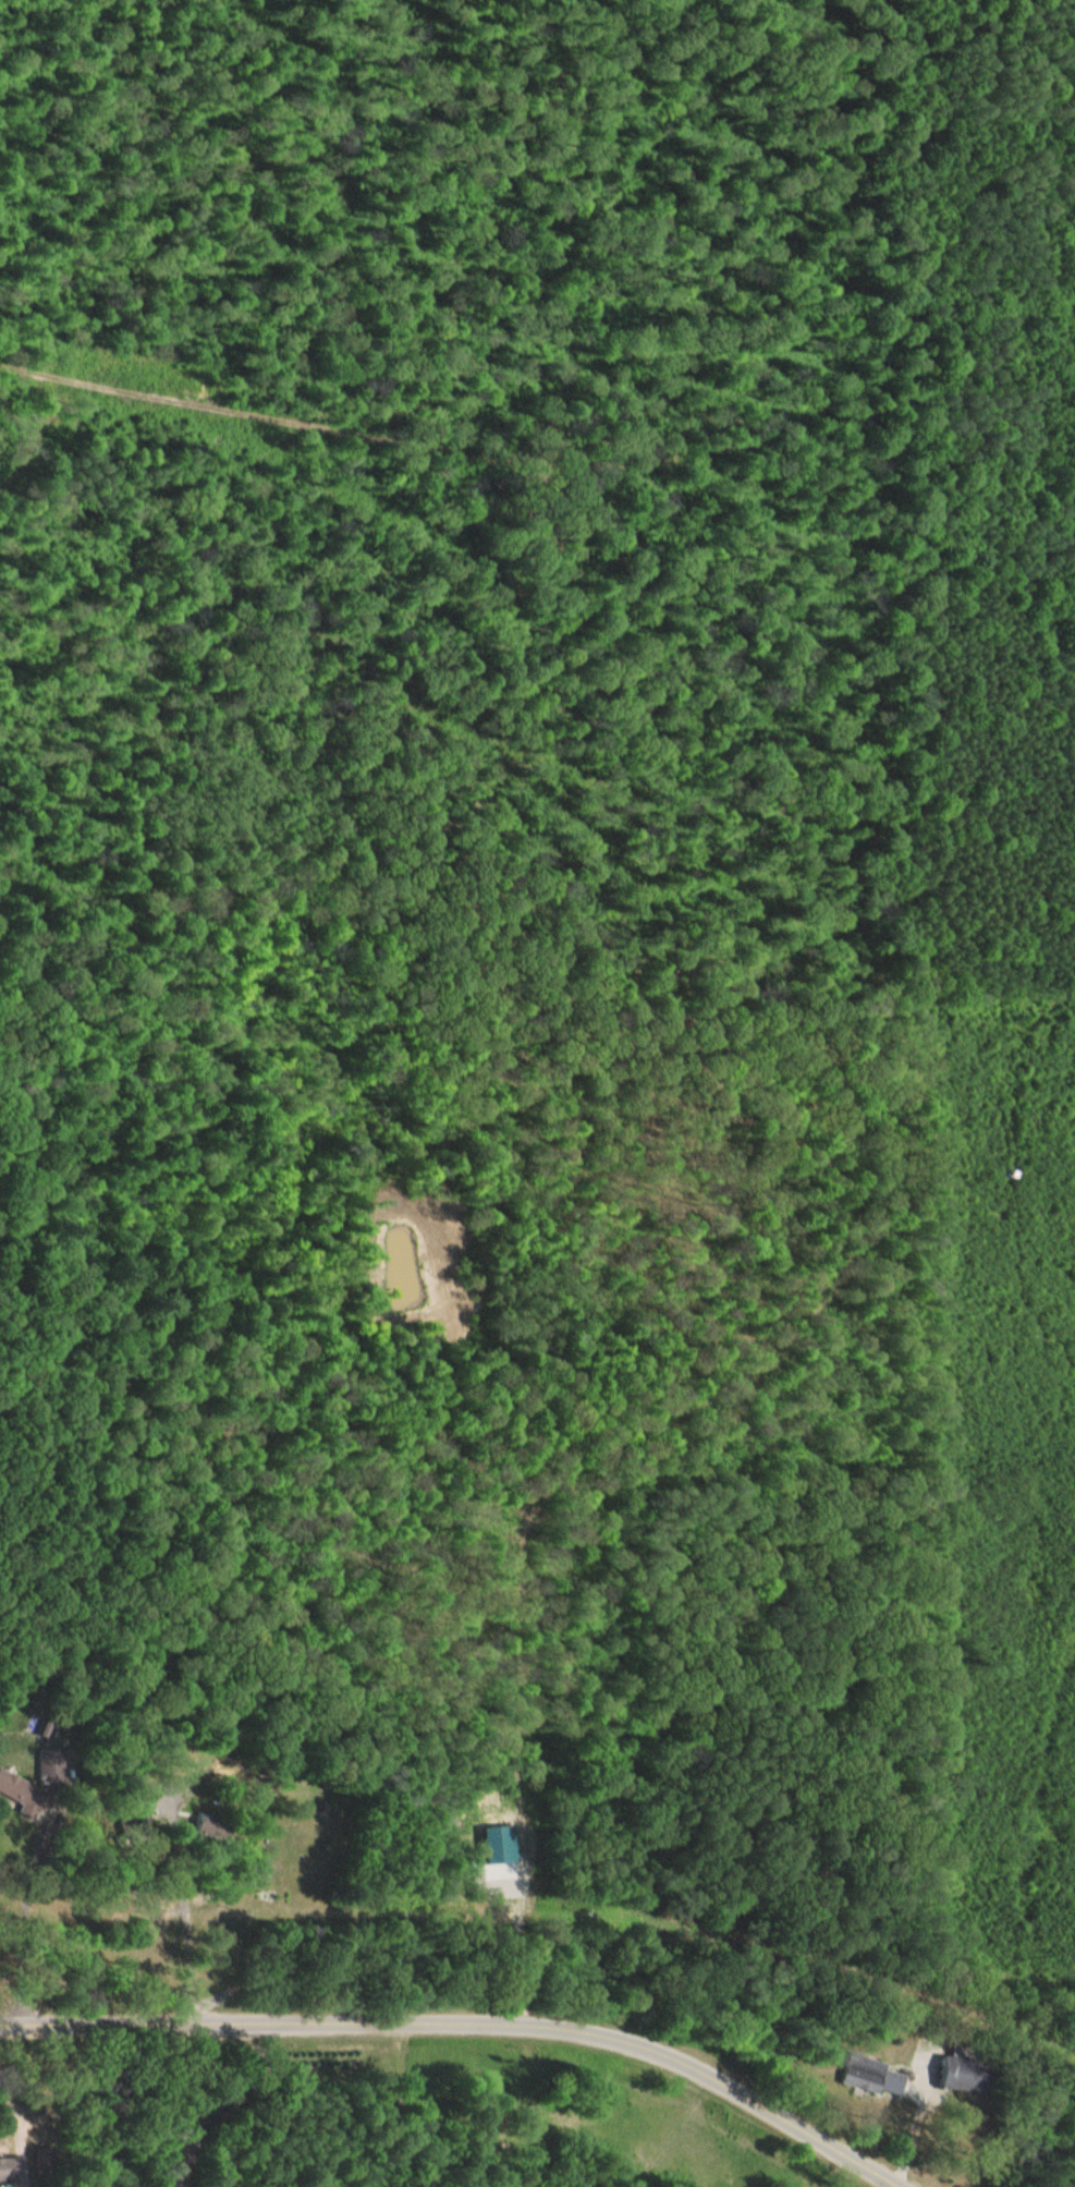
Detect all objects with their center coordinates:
building: (10, 1786)
road: (471, 2026)
building: (870, 2077)
building: (4, 2168)

